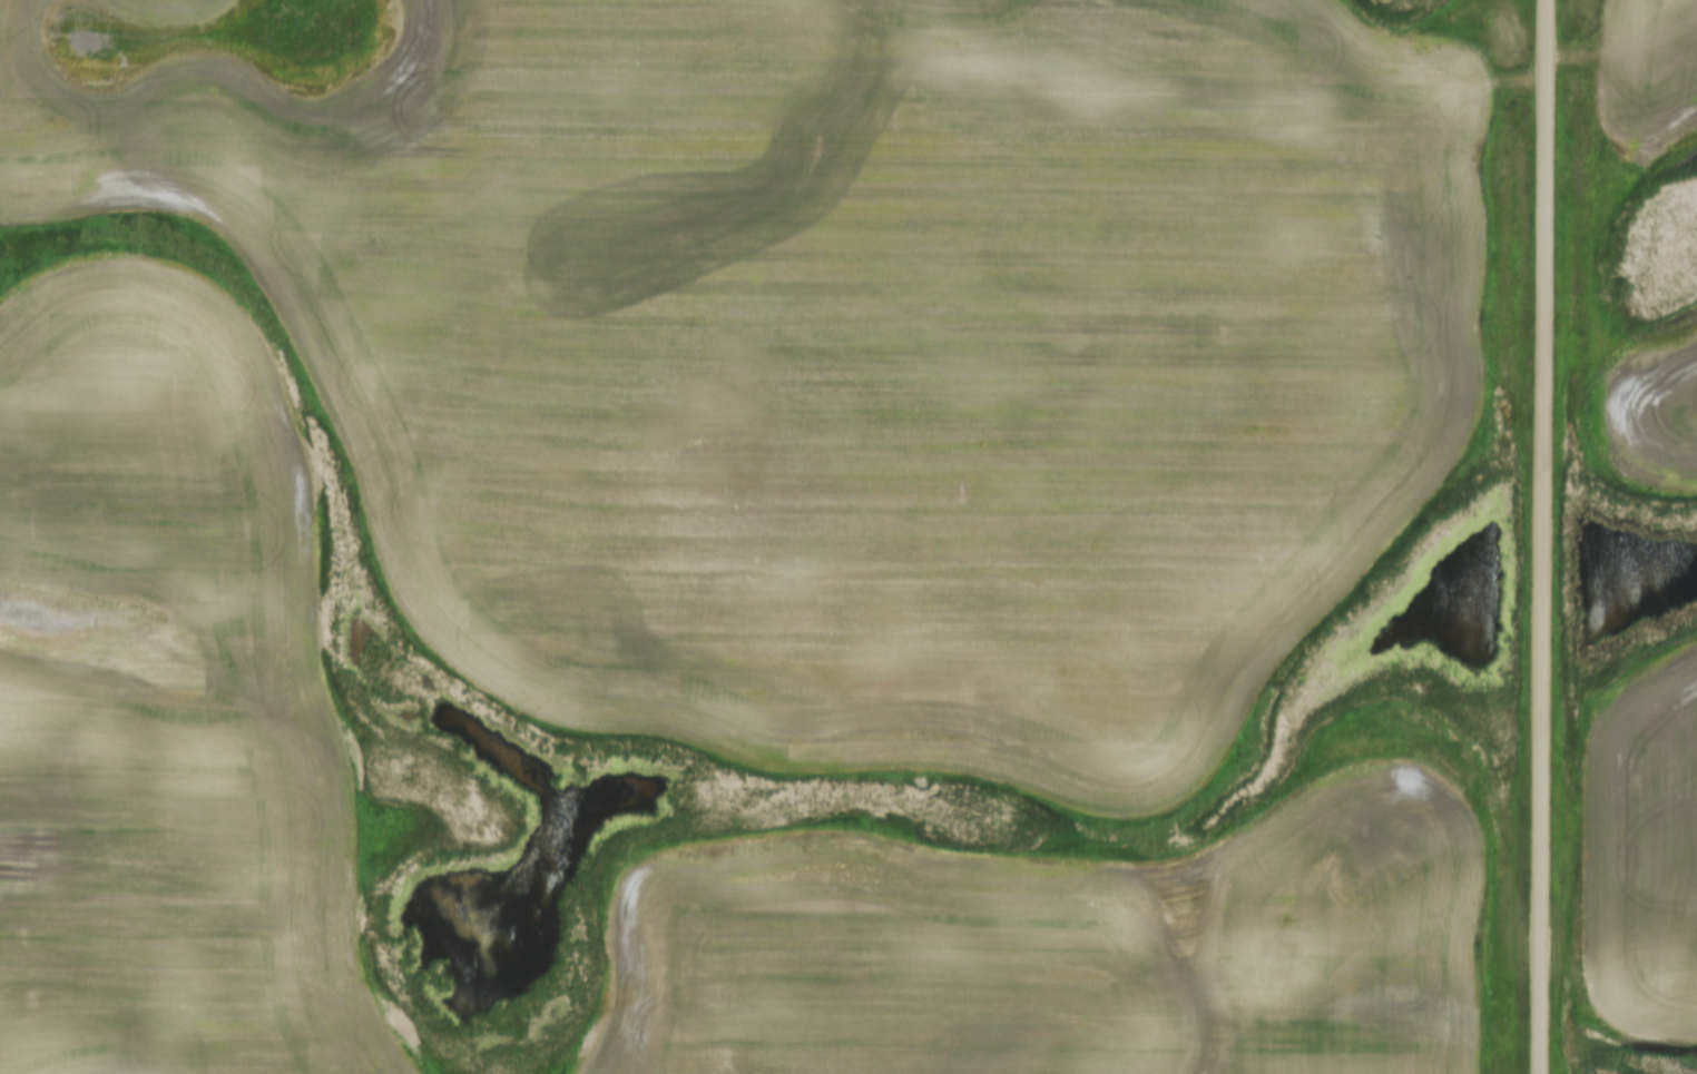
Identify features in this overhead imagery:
road: (1542, 536)

